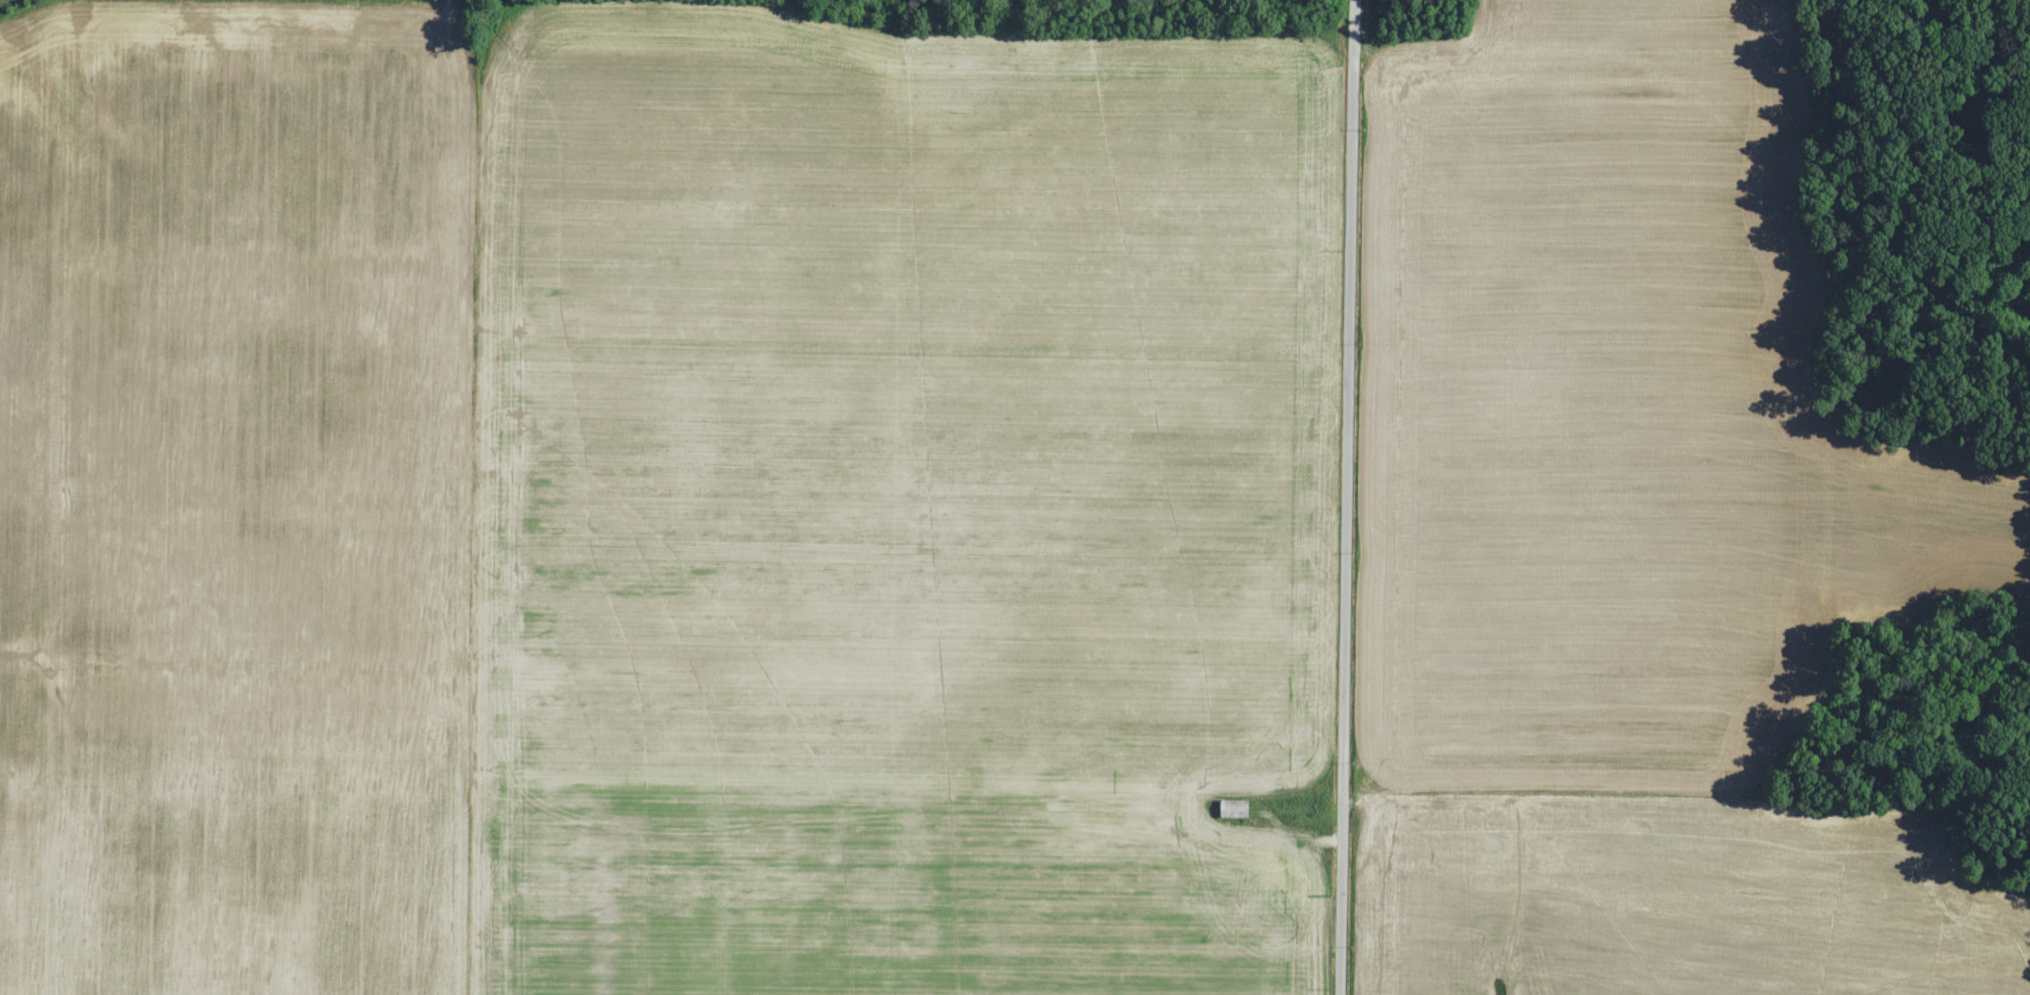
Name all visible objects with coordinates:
road: (1343, 497)

